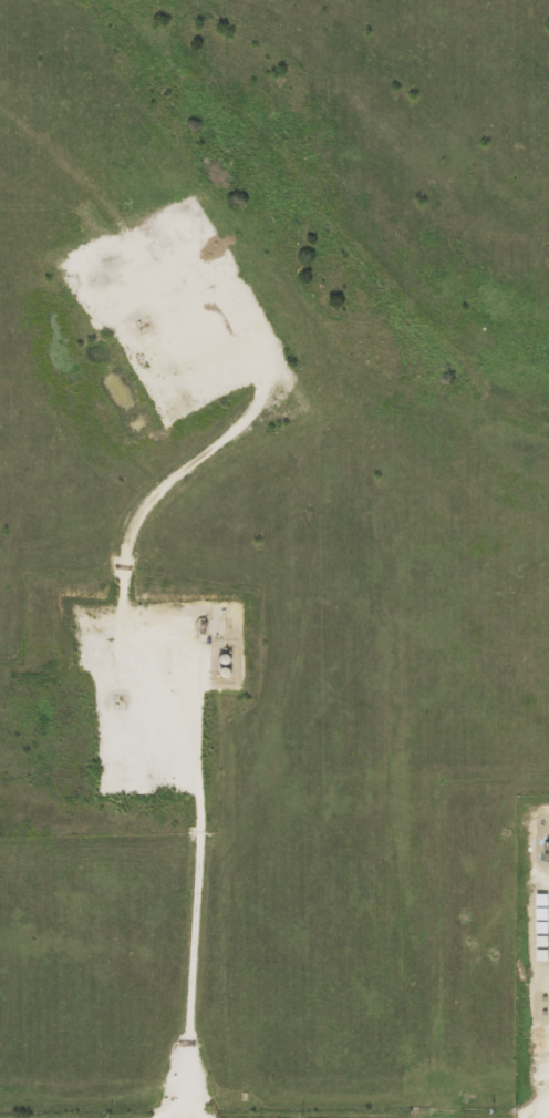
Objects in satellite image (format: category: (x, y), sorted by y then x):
road: (538, 1110)

